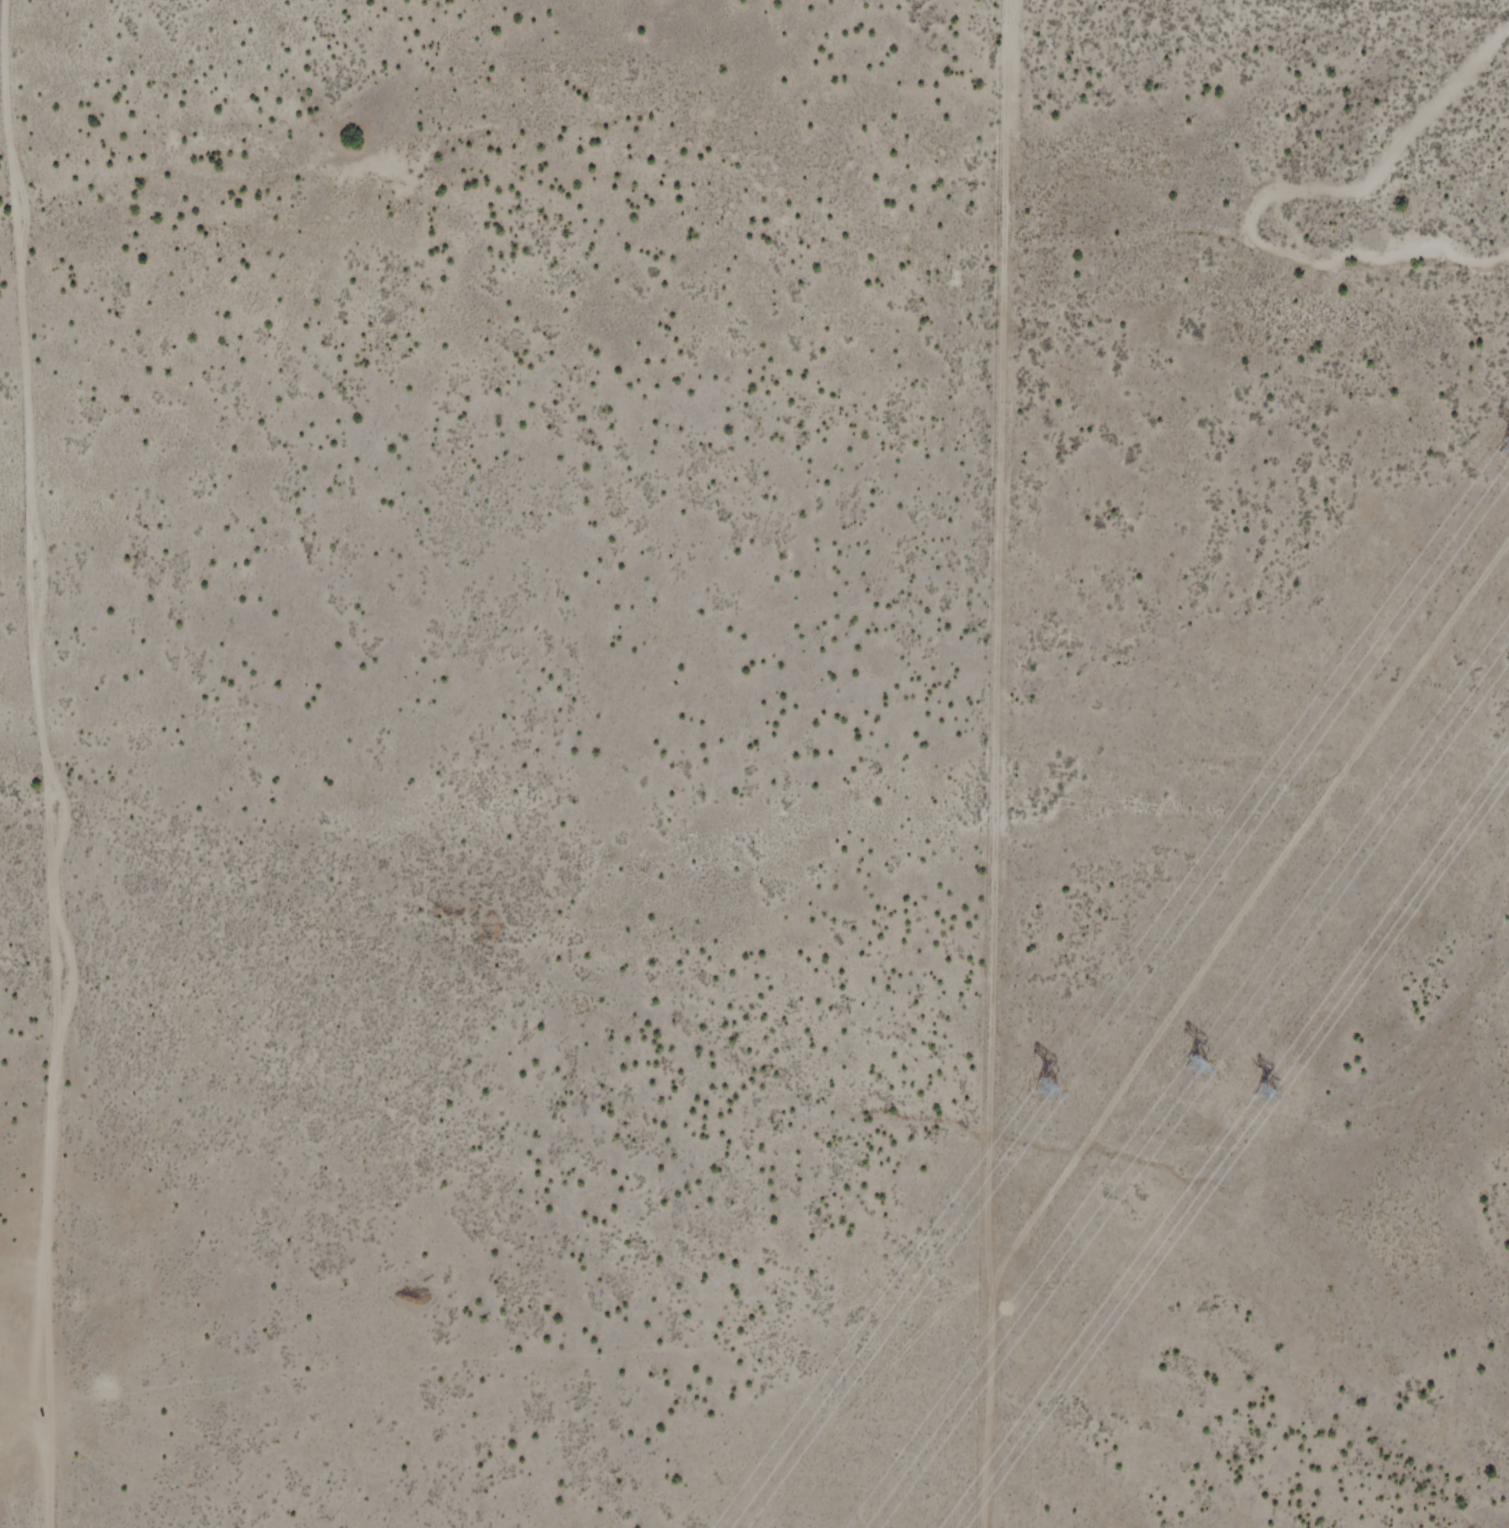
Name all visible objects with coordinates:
power tower: (1205, 1059)
power tower: (1056, 1078)
power tower: (1274, 1087)

